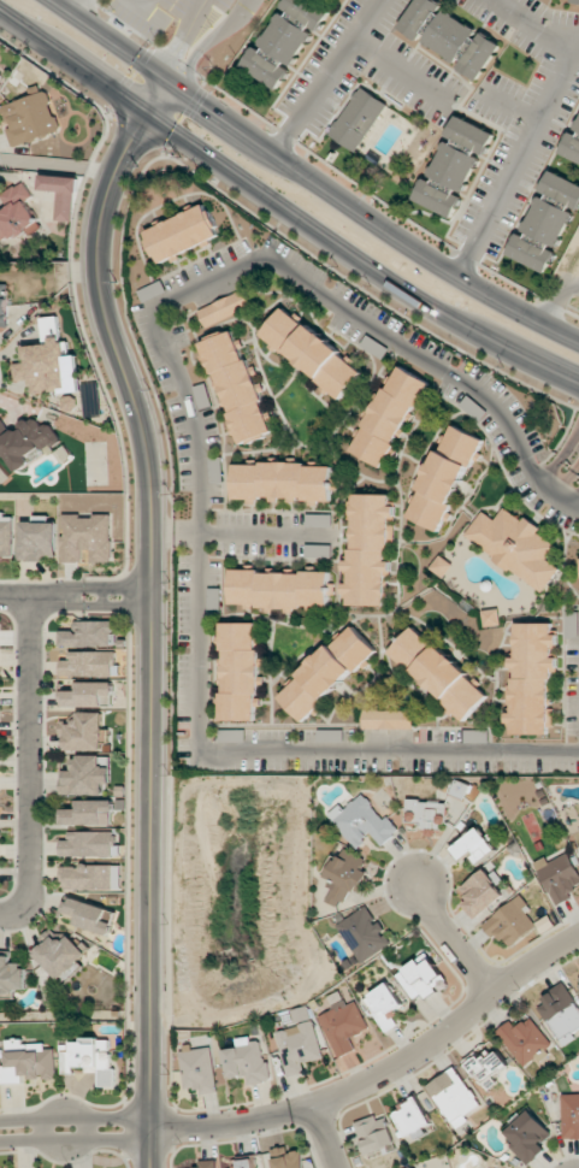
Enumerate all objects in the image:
building: (575, 1)
road: (82, 7)
road: (193, 17)
road: (530, 26)
building: (449, 35)
road: (211, 39)
building: (285, 40)
road: (170, 52)
road: (398, 67)
building: (0, 72)
road: (327, 75)
traffic signals: (171, 78)
traffic signals: (149, 114)
building: (29, 117)
building: (358, 117)
building: (572, 142)
road: (520, 158)
building: (454, 166)
road: (313, 177)
building: (60, 194)
road: (283, 208)
building: (16, 213)
building: (546, 220)
building: (182, 232)
road: (560, 297)
building: (4, 305)
building: (224, 307)
building: (312, 350)
building: (48, 362)
building: (237, 385)
building: (202, 395)
building: (390, 415)
building: (25, 441)
road: (571, 444)
road: (200, 449)
road: (577, 466)
building: (215, 470)
road: (555, 470)
building: (444, 477)
road: (566, 480)
building: (284, 482)
road: (577, 501)
building: (319, 520)
road: (164, 530)
road: (253, 532)
building: (6, 535)
building: (87, 536)
building: (37, 539)
building: (516, 544)
building: (318, 550)
building: (368, 550)
building: (443, 566)
building: (282, 588)
road: (155, 589)
road: (94, 600)
building: (491, 617)
building: (88, 633)
building: (89, 663)
building: (240, 669)
building: (438, 671)
building: (326, 672)
building: (532, 677)
building: (88, 695)
building: (386, 719)
building: (85, 731)
road: (29, 749)
building: (84, 777)
building: (88, 813)
building: (425, 814)
building: (362, 821)
building: (88, 844)
building: (474, 845)
building: (560, 875)
building: (90, 877)
building: (344, 877)
building: (481, 892)
building: (87, 915)
building: (512, 922)
building: (364, 933)
road: (455, 942)
building: (60, 955)
building: (10, 974)
building: (577, 975)
building: (420, 977)
building: (384, 1005)
building: (561, 1013)
building: (343, 1026)
building: (524, 1039)
building: (297, 1046)
building: (91, 1058)
building: (247, 1061)
building: (29, 1062)
building: (486, 1064)
building: (199, 1068)
road: (380, 1076)
building: (454, 1096)
building: (569, 1115)
building: (413, 1117)
road: (73, 1121)
road: (84, 1131)
road: (40, 1132)
building: (374, 1132)
building: (527, 1137)
road: (321, 1138)
road: (75, 1139)
road: (148, 1148)
building: (286, 1158)
building: (207, 1163)
building: (246, 1163)
building: (416, 1167)

